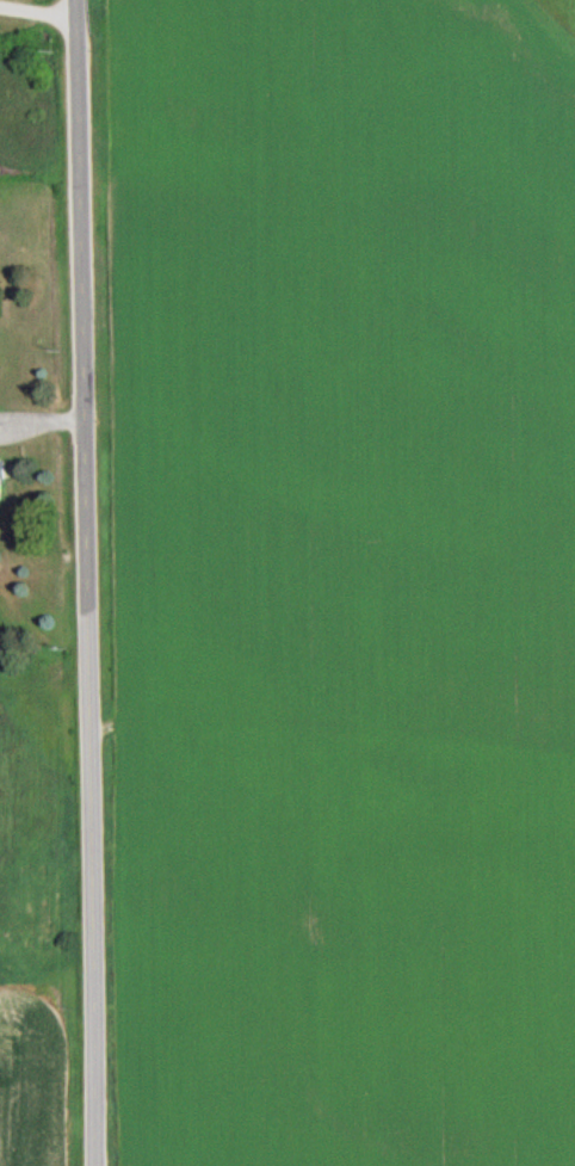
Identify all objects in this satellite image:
road: (38, 11)
road: (43, 419)
building: (4, 474)
building: (29, 535)
road: (88, 582)

